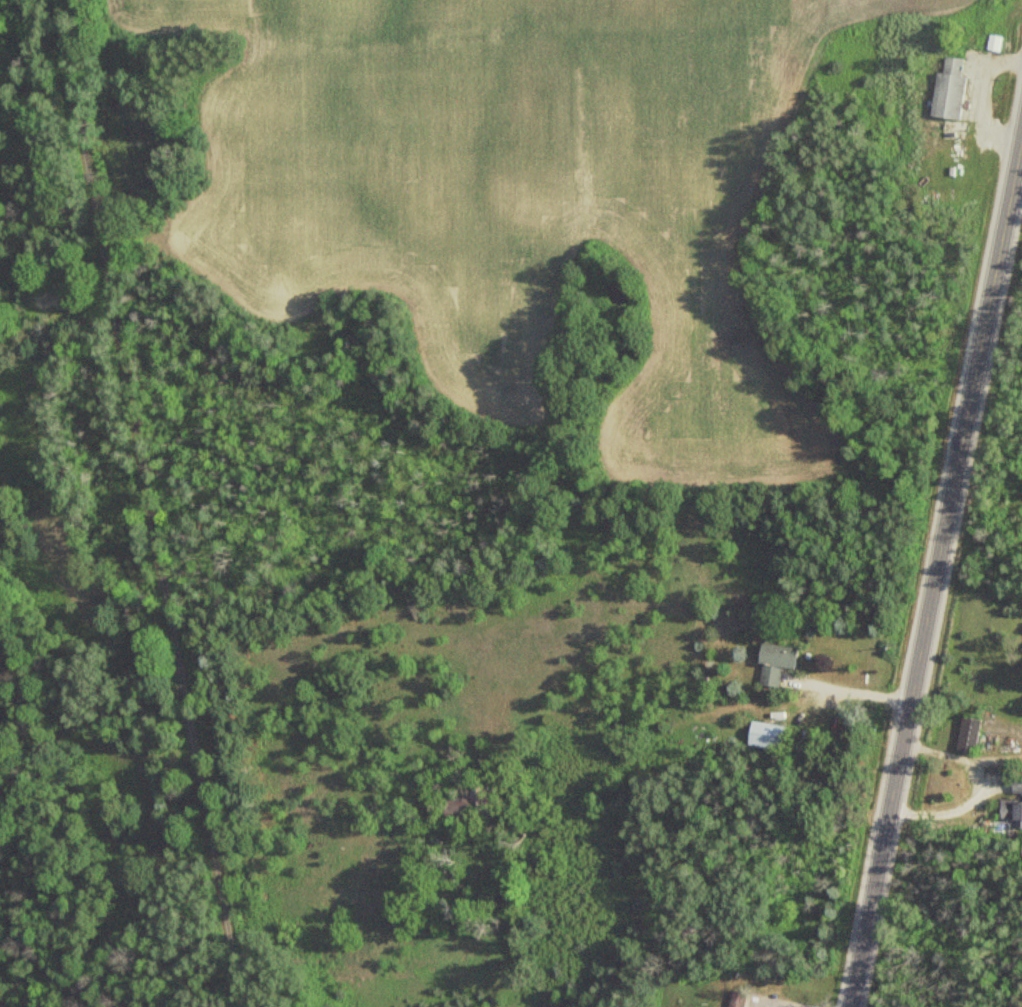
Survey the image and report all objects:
building: (991, 42)
building: (945, 89)
road: (962, 425)
road: (148, 503)
building: (772, 663)
road: (852, 689)
building: (763, 735)
building: (966, 735)
building: (1015, 783)
building: (1011, 813)
road: (875, 862)
building: (732, 998)
road: (775, 1003)

